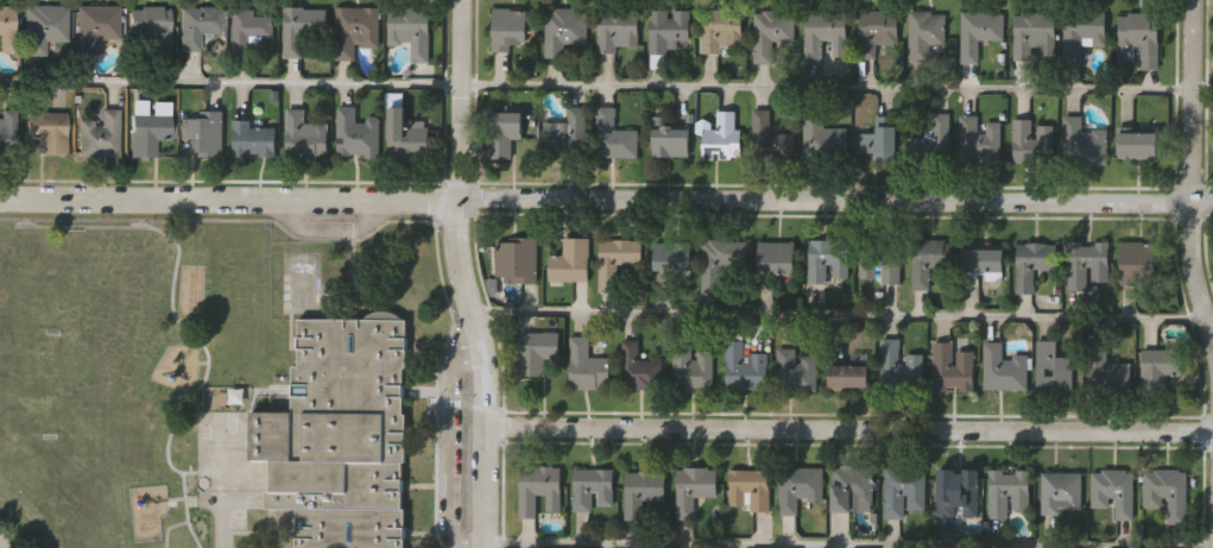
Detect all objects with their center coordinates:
building: (201, 24)
building: (46, 25)
building: (96, 25)
building: (150, 25)
building: (7, 26)
building: (252, 27)
building: (304, 27)
building: (510, 27)
building: (356, 29)
building: (566, 29)
building: (669, 29)
building: (411, 30)
building: (722, 30)
building: (618, 31)
building: (877, 31)
building: (772, 33)
building: (826, 33)
building: (981, 33)
building: (1035, 33)
building: (1084, 34)
building: (927, 36)
building: (1139, 38)
road: (606, 88)
building: (7, 131)
building: (48, 131)
building: (149, 132)
building: (505, 132)
building: (568, 132)
building: (101, 133)
building: (204, 133)
building: (358, 133)
building: (305, 134)
building: (408, 134)
building: (614, 134)
building: (722, 137)
building: (253, 138)
building: (771, 139)
building: (877, 139)
building: (671, 140)
building: (822, 140)
building: (980, 140)
building: (1028, 140)
building: (934, 141)
building: (1085, 141)
building: (1138, 145)
road: (1192, 172)
road: (606, 197)
building: (726, 253)
building: (674, 256)
building: (777, 257)
building: (518, 259)
building: (617, 259)
building: (930, 259)
building: (983, 259)
building: (571, 260)
building: (882, 260)
building: (829, 262)
building: (1138, 262)
building: (1031, 263)
building: (1088, 264)
road: (463, 275)
road: (845, 317)
building: (537, 351)
building: (587, 366)
building: (693, 367)
building: (745, 367)
building: (901, 367)
building: (639, 369)
building: (954, 369)
building: (1005, 369)
building: (1054, 369)
building: (1107, 369)
building: (1160, 369)
building: (796, 370)
building: (848, 377)
road: (849, 429)
building: (341, 434)
road: (440, 439)
building: (800, 487)
building: (594, 489)
building: (695, 489)
building: (751, 489)
building: (853, 489)
building: (539, 490)
building: (643, 490)
building: (905, 491)
building: (1062, 491)
building: (959, 492)
building: (1009, 492)
building: (1114, 492)
building: (1168, 492)
road: (4, 544)
road: (779, 546)

